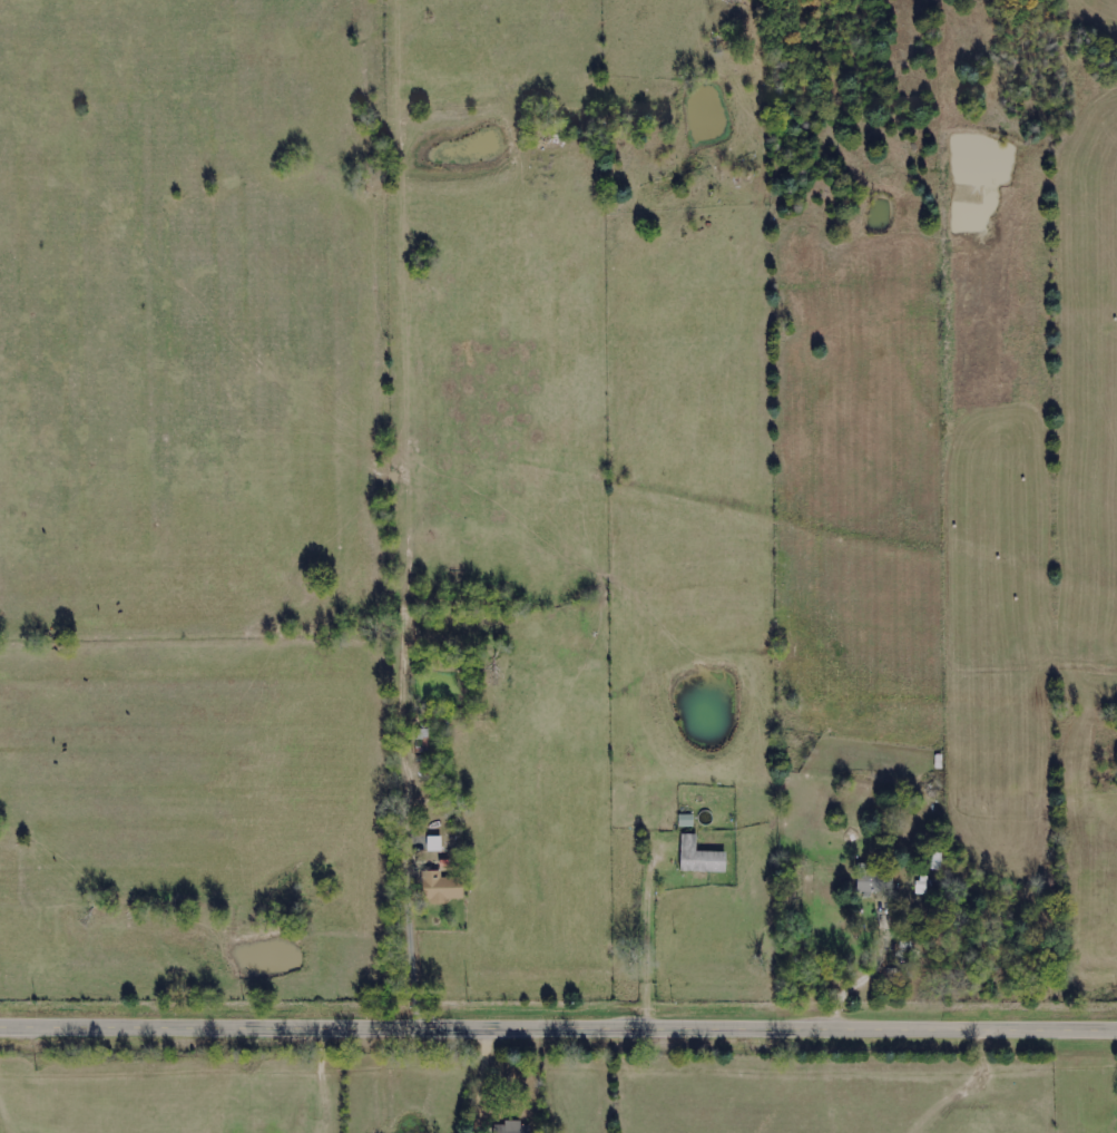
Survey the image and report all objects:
building: (434, 843)
building: (700, 857)
building: (937, 861)
building: (874, 880)
building: (441, 887)
building: (921, 887)
road: (558, 1029)
building: (513, 1127)

